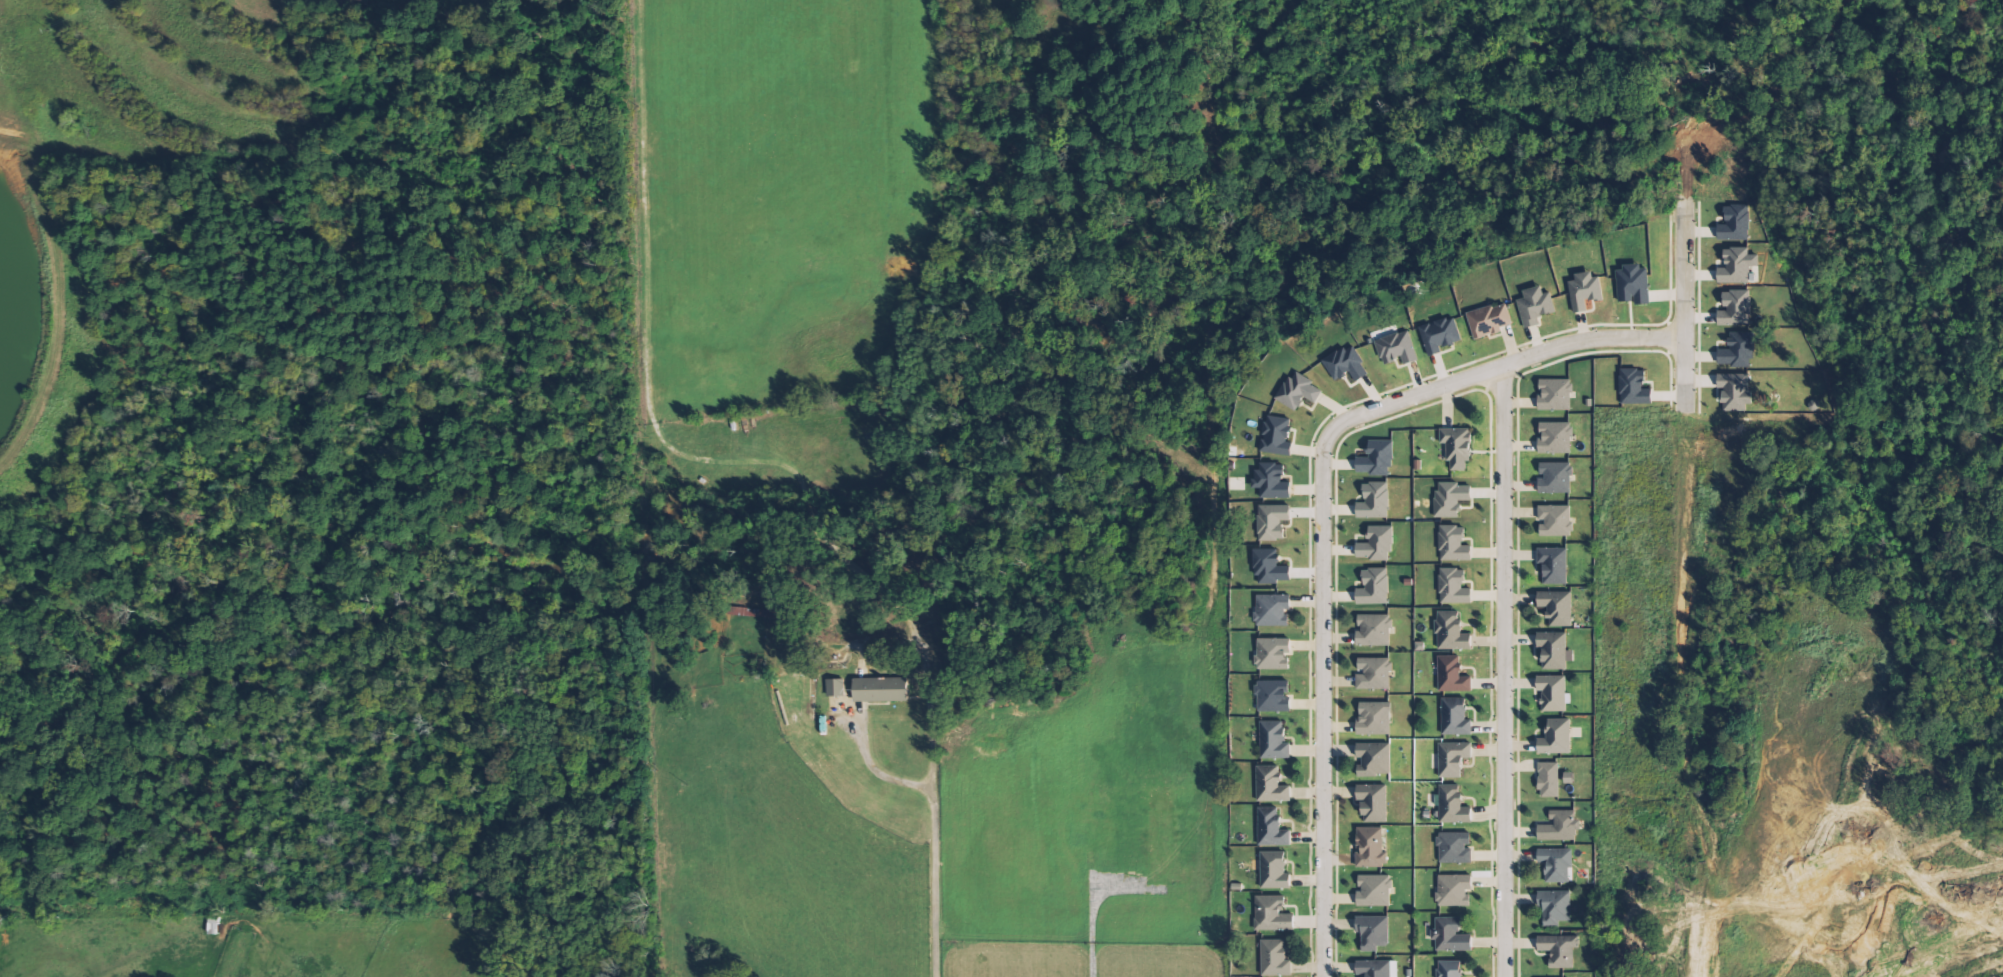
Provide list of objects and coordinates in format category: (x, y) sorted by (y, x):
building: (1736, 224)
building: (1738, 266)
building: (1634, 285)
building: (1586, 291)
road: (1685, 296)
building: (1537, 306)
building: (1737, 309)
building: (1490, 320)
building: (1441, 335)
building: (1398, 348)
building: (1739, 351)
building: (1347, 364)
building: (1635, 387)
building: (1300, 391)
building: (1736, 391)
building: (1557, 394)
building: (1278, 435)
building: (1556, 438)
building: (1458, 446)
building: (1378, 459)
building: (1556, 477)
building: (1273, 481)
building: (1452, 498)
building: (1375, 501)
road: (1325, 519)
building: (1556, 520)
building: (1273, 521)
building: (1378, 544)
building: (1455, 544)
building: (1555, 564)
building: (1270, 567)
building: (1455, 586)
building: (1375, 587)
building: (1558, 607)
building: (1273, 610)
building: (776, 611)
building: (1375, 630)
building: (1453, 632)
building: (1556, 650)
building: (1274, 653)
road: (1504, 672)
building: (1375, 673)
building: (1453, 675)
building: (837, 687)
building: (882, 689)
building: (1555, 693)
building: (1275, 696)
building: (1457, 717)
building: (1376, 718)
building: (1558, 737)
building: (1275, 740)
building: (1454, 758)
building: (1375, 759)
building: (1570, 777)
building: (1550, 779)
building: (1272, 784)
building: (1375, 802)
building: (1453, 805)
building: (1561, 827)
building: (1272, 828)
building: (1372, 847)
building: (1456, 847)
building: (1557, 864)
building: (1275, 870)
building: (1376, 890)
building: (1456, 890)
building: (1556, 907)
building: (1273, 914)
building: (1374, 932)
building: (1452, 935)
building: (1560, 950)
building: (1276, 958)
building: (1378, 968)
building: (1451, 968)

